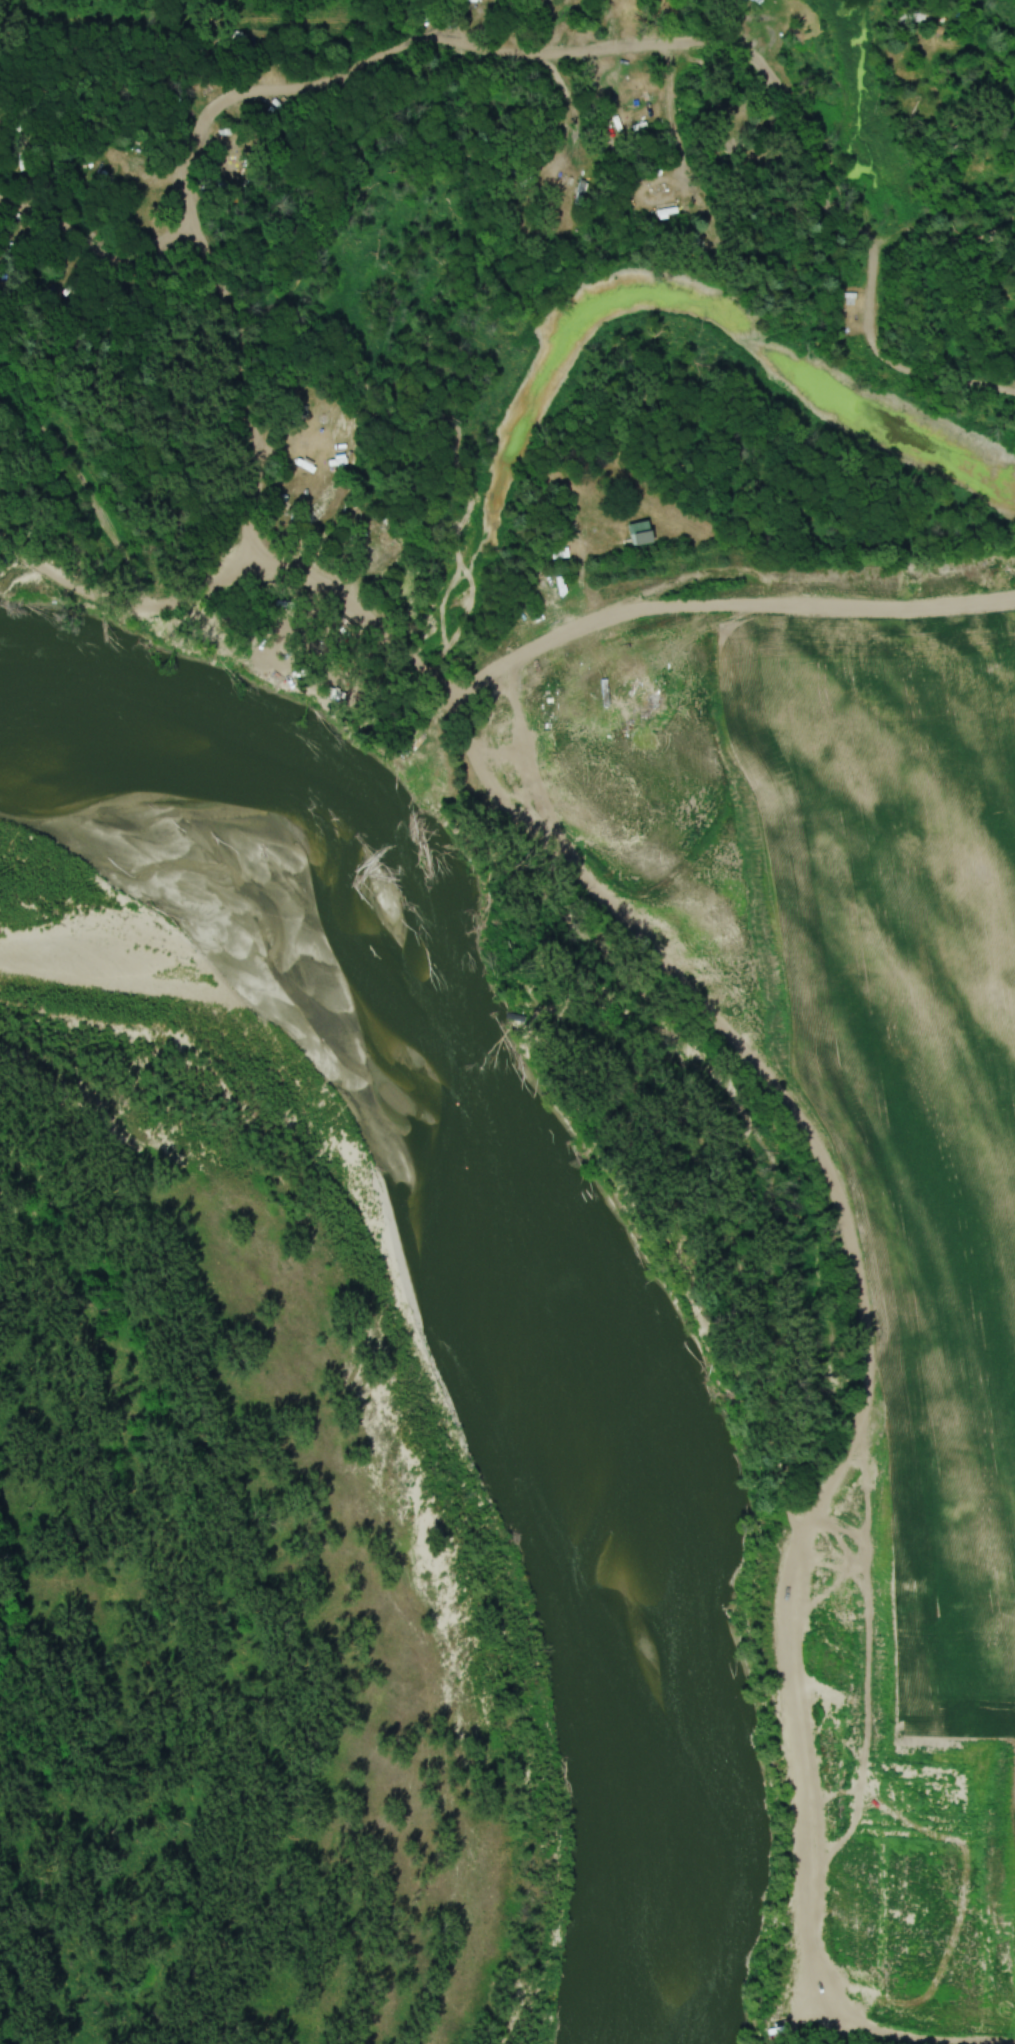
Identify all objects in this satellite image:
road: (345, 75)
building: (580, 192)
road: (713, 579)
road: (116, 686)
road: (824, 1198)
river: (581, 1314)

